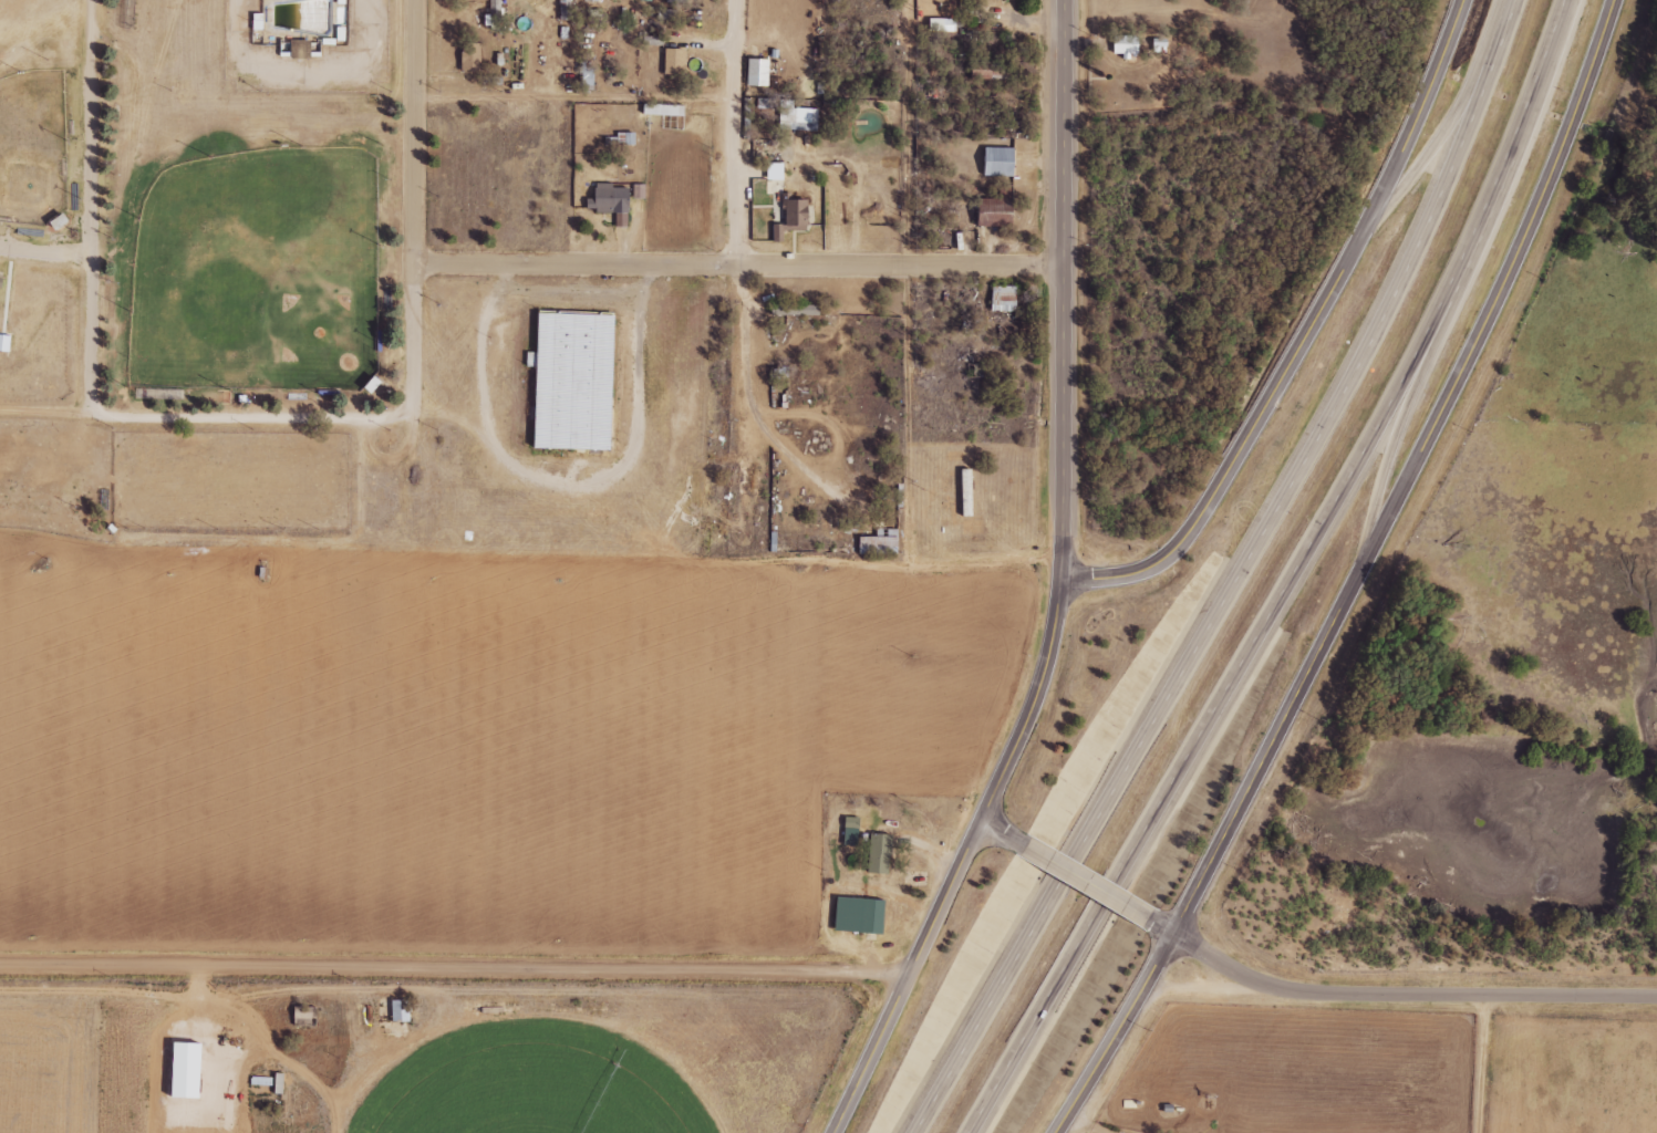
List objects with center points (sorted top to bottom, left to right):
building: (943, 24)
building: (1127, 45)
building: (676, 61)
building: (758, 72)
building: (987, 74)
road: (577, 104)
building: (664, 110)
road: (1410, 129)
road: (415, 131)
road: (738, 133)
road: (915, 133)
road: (1439, 135)
park: (37, 150)
building: (1000, 162)
building: (776, 170)
building: (639, 191)
building: (613, 202)
road: (92, 207)
building: (997, 212)
building: (794, 217)
park: (188, 220)
road: (45, 259)
road: (738, 267)
park: (267, 276)
road: (1063, 289)
building: (1004, 299)
road: (1491, 306)
building: (795, 309)
building: (6, 343)
road: (754, 397)
road: (282, 414)
road: (1389, 451)
road: (1234, 455)
building: (969, 493)
building: (974, 528)
road: (970, 563)
road: (1249, 580)
road: (1303, 580)
road: (1034, 701)
building: (852, 831)
road: (1004, 832)
building: (860, 834)
building: (889, 855)
road: (1204, 872)
road: (1086, 881)
road: (945, 896)
building: (869, 917)
road: (1160, 925)
road: (454, 969)
road: (1408, 998)
building: (402, 1011)
road: (868, 1053)

